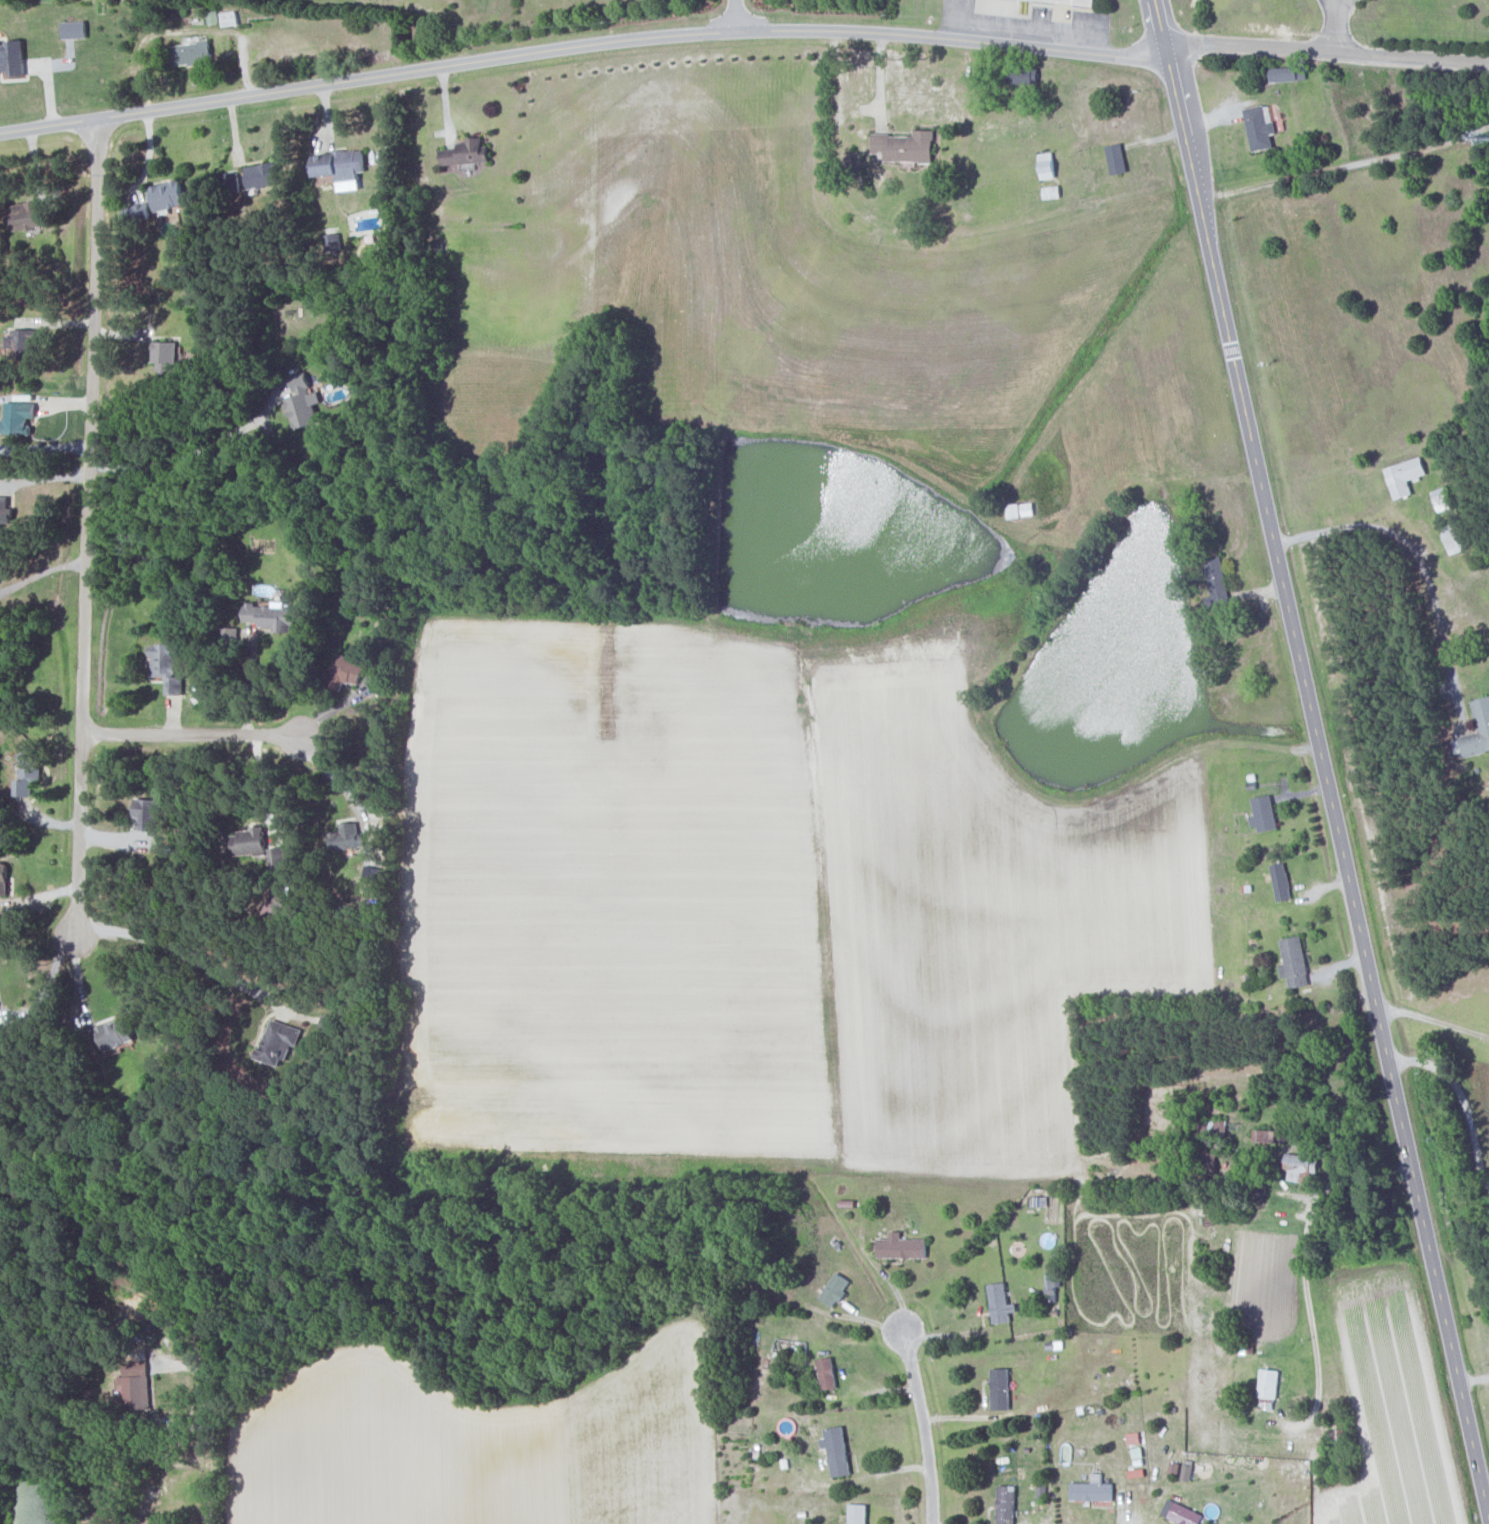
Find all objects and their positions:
building: (1075, 2)
road: (739, 15)
road: (956, 19)
road: (1332, 26)
building: (73, 28)
road: (581, 46)
road: (1327, 51)
building: (191, 53)
building: (12, 57)
building: (1284, 74)
road: (880, 79)
building: (1259, 128)
building: (906, 147)
building: (466, 152)
building: (1117, 158)
building: (339, 164)
road: (1344, 167)
building: (261, 176)
building: (1051, 192)
building: (167, 195)
building: (140, 211)
building: (24, 215)
road: (1211, 266)
building: (24, 342)
building: (164, 355)
building: (303, 404)
building: (17, 418)
road: (198, 452)
building: (1405, 476)
building: (1441, 499)
building: (1021, 510)
building: (4, 511)
road: (87, 529)
building: (1454, 538)
road: (1411, 562)
road: (41, 573)
building: (271, 617)
building: (166, 666)
building: (347, 671)
road: (250, 684)
building: (1482, 716)
road: (193, 733)
building: (27, 770)
road: (334, 776)
road: (264, 780)
building: (147, 813)
building: (1264, 814)
building: (346, 837)
building: (248, 842)
building: (371, 875)
building: (3, 879)
building: (1281, 882)
building: (274, 907)
road: (186, 954)
building: (1294, 962)
road: (46, 984)
road: (1433, 1021)
road: (1381, 1022)
building: (114, 1034)
building: (278, 1042)
road: (1460, 1102)
building: (1265, 1136)
building: (1208, 1162)
building: (1301, 1166)
building: (901, 1246)
road: (1305, 1275)
road: (891, 1283)
building: (1052, 1285)
building: (835, 1289)
building: (1000, 1303)
road: (852, 1317)
road: (946, 1333)
building: (826, 1373)
building: (1268, 1382)
building: (135, 1384)
building: (1000, 1388)
road: (922, 1426)
building: (836, 1450)
road: (213, 1471)
building: (1092, 1489)
building: (1006, 1504)
road: (1120, 1508)
building: (858, 1513)

